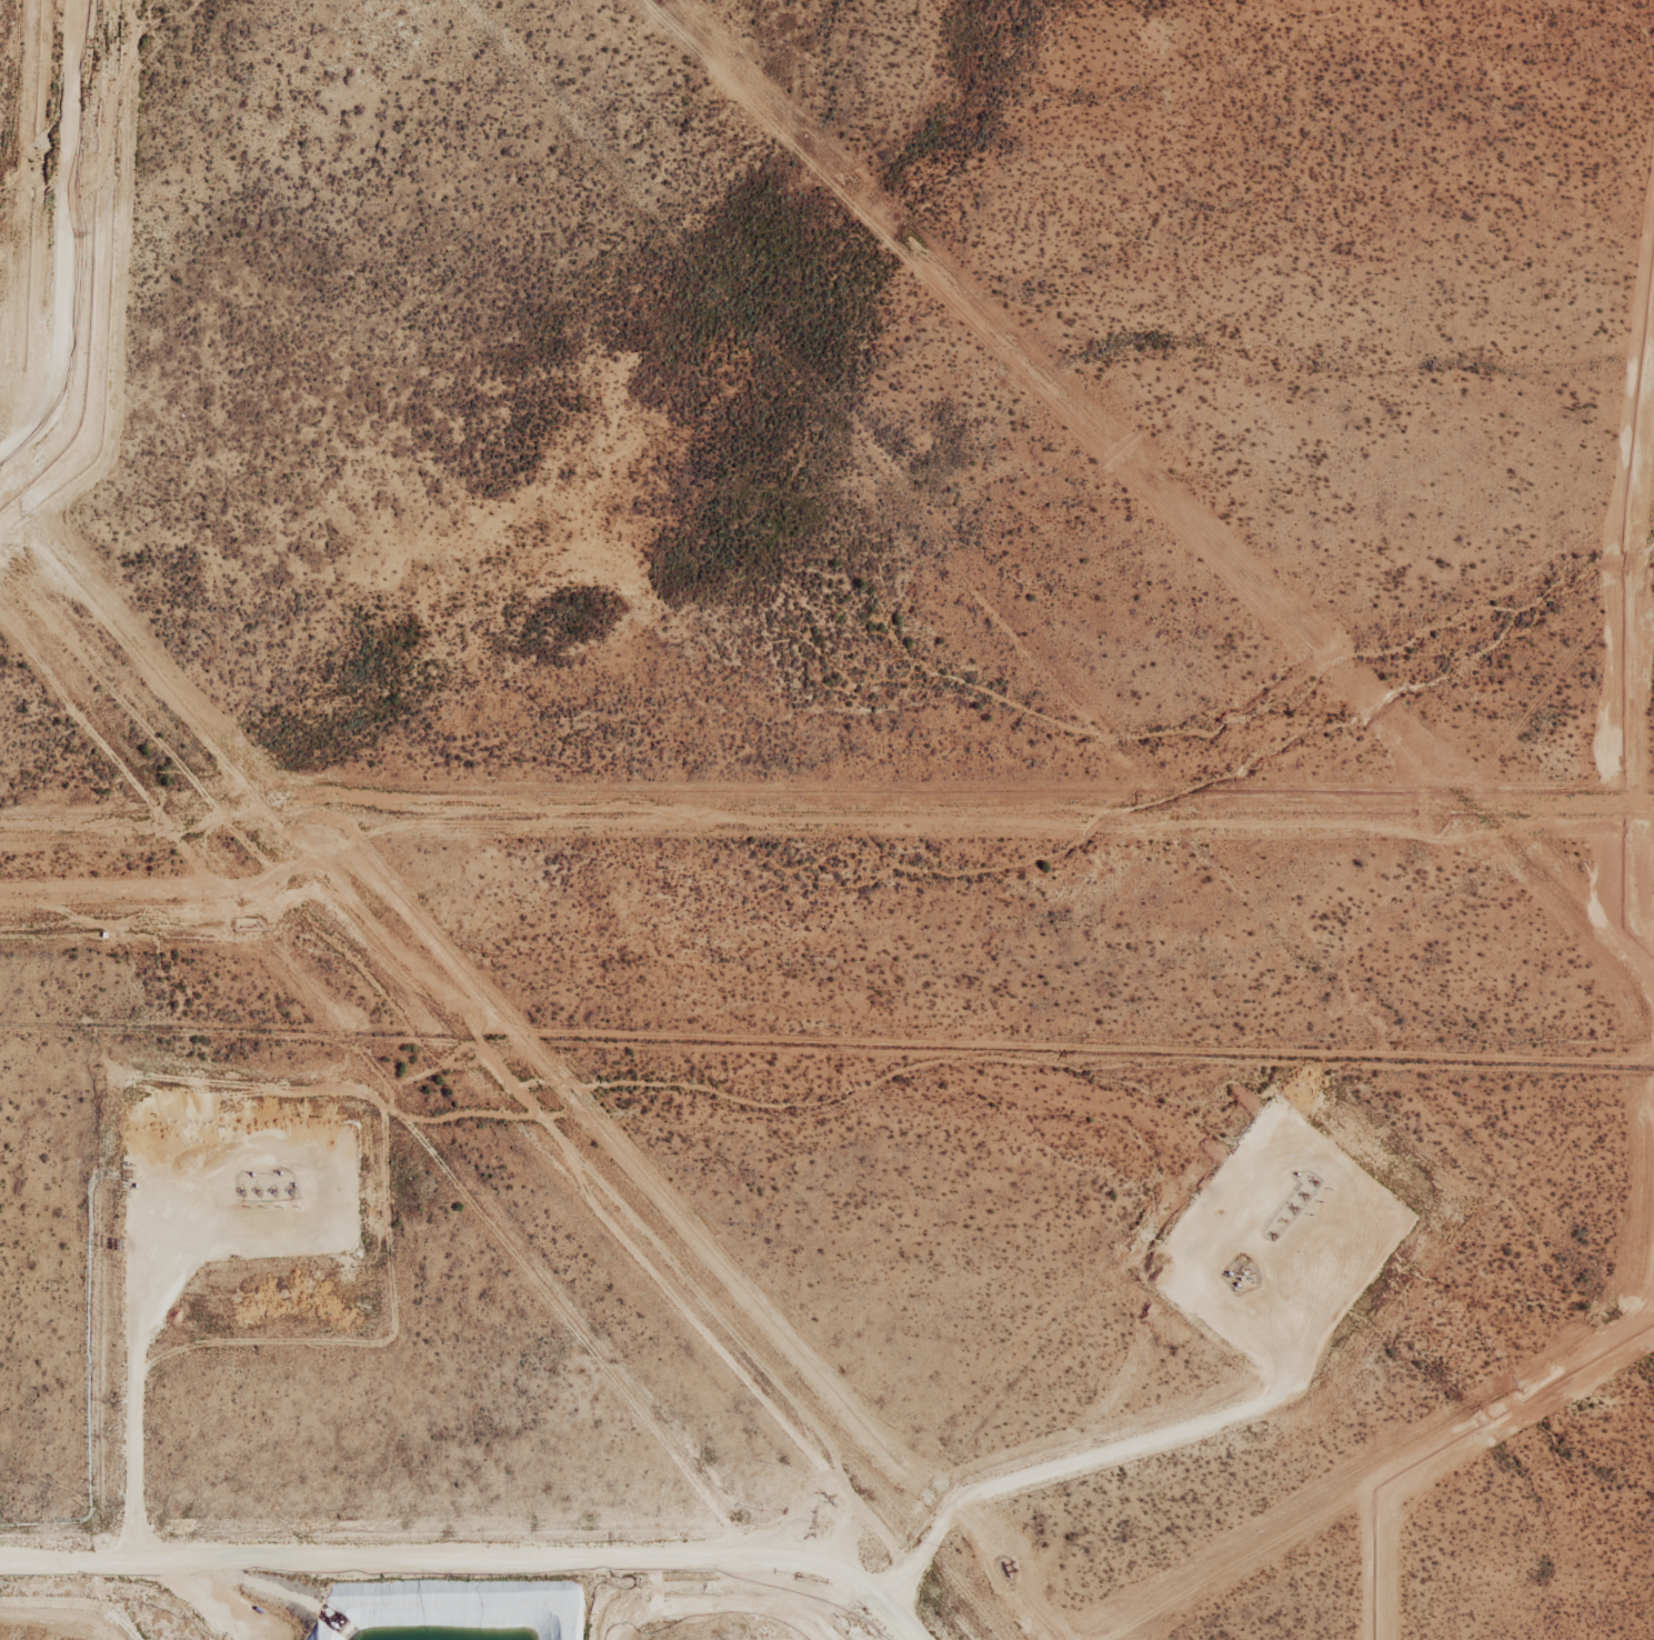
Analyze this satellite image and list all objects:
road: (56, 238)
petroleum well: (1314, 1179)
petroleum well: (241, 1189)
petroleum well: (258, 1189)
petroleum well: (273, 1189)
petroleum well: (290, 1189)
petroleum well: (1304, 1192)
petroleum well: (1293, 1206)
petroleum well: (1282, 1219)
petroleum well: (1272, 1233)
road: (159, 1267)
road: (1174, 1429)
road: (488, 1552)

